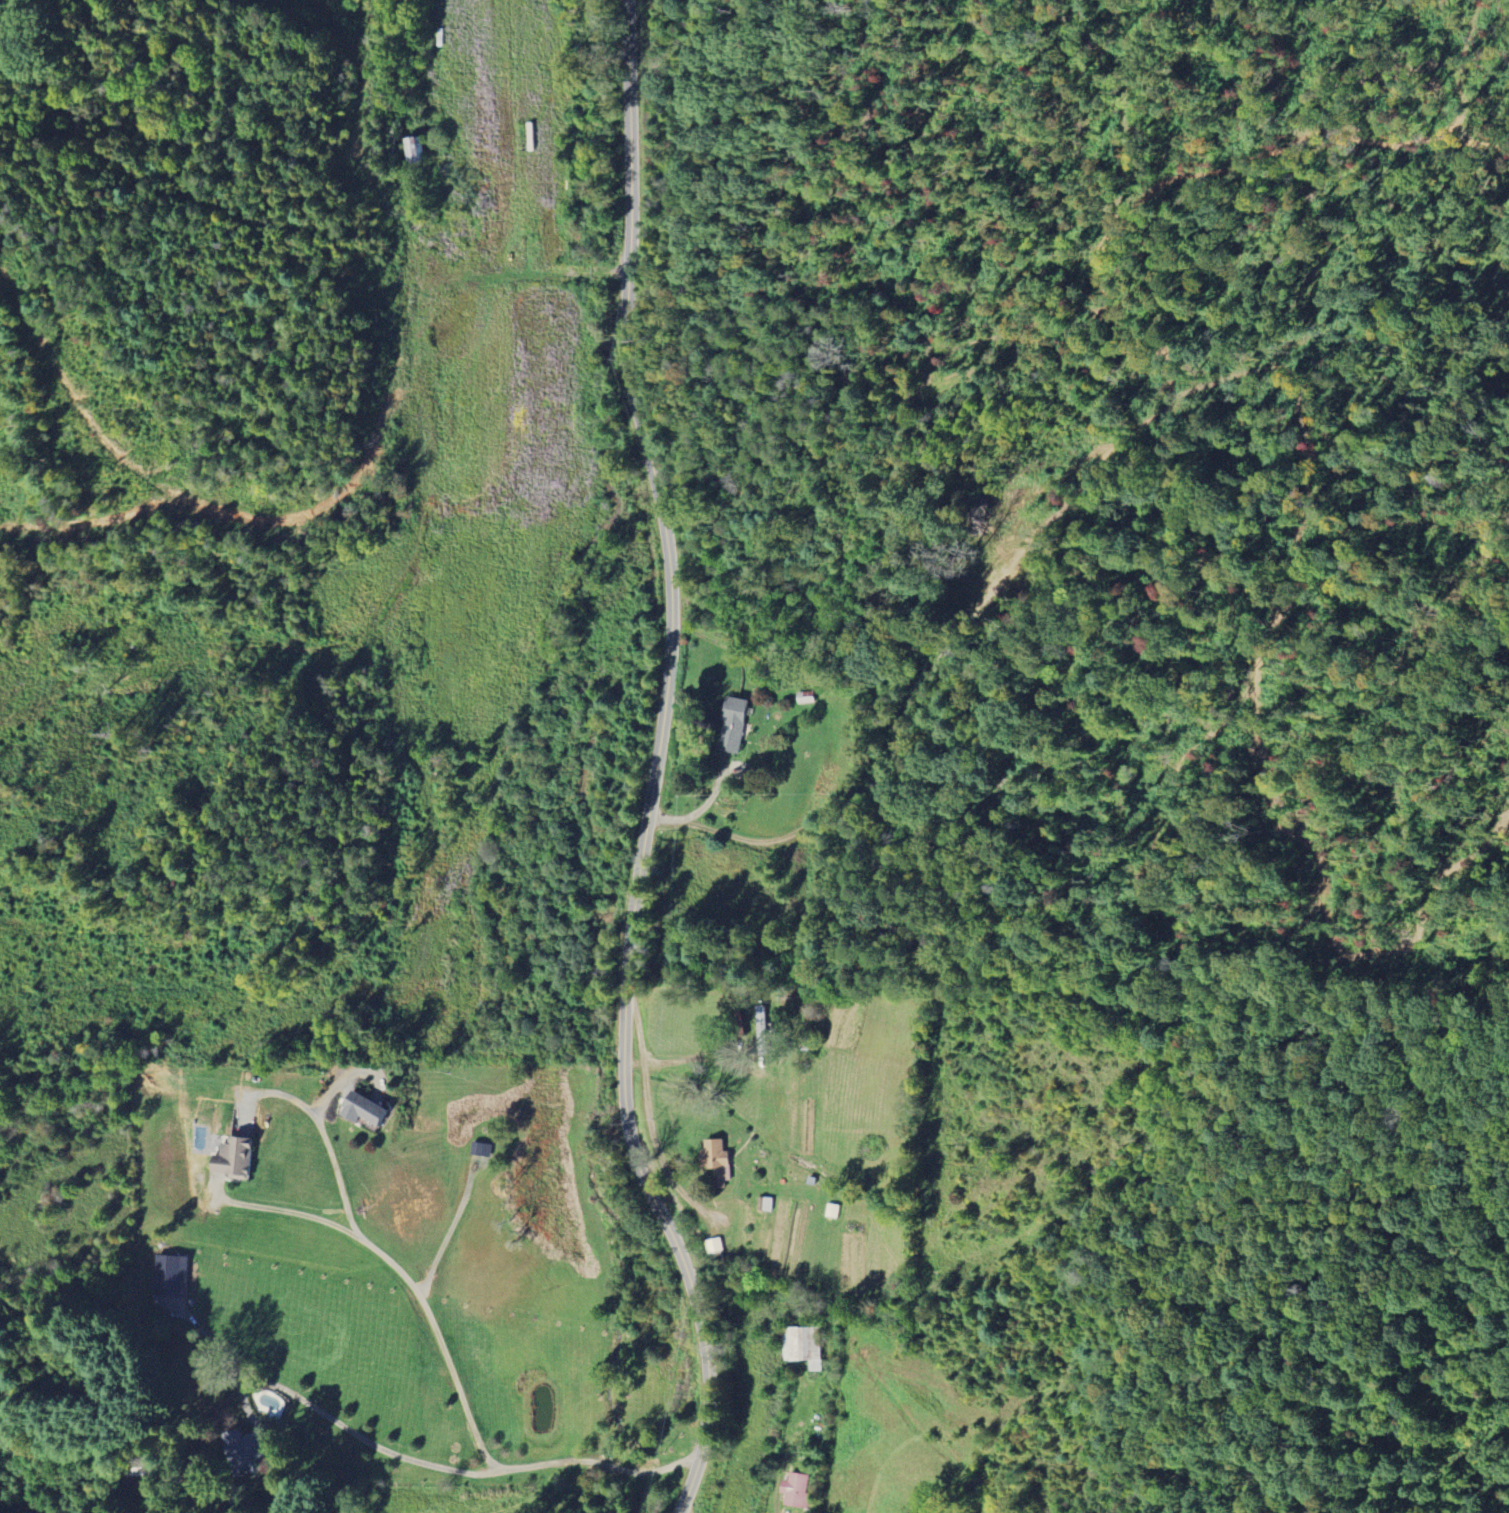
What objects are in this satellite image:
building: (419, 151)
road: (641, 418)
building: (730, 725)
building: (761, 1020)
building: (362, 1110)
building: (482, 1150)
building: (714, 1160)
road: (653, 1178)
building: (168, 1275)
road: (440, 1343)
building: (803, 1346)
road: (354, 1434)
building: (237, 1452)
building: (796, 1490)

